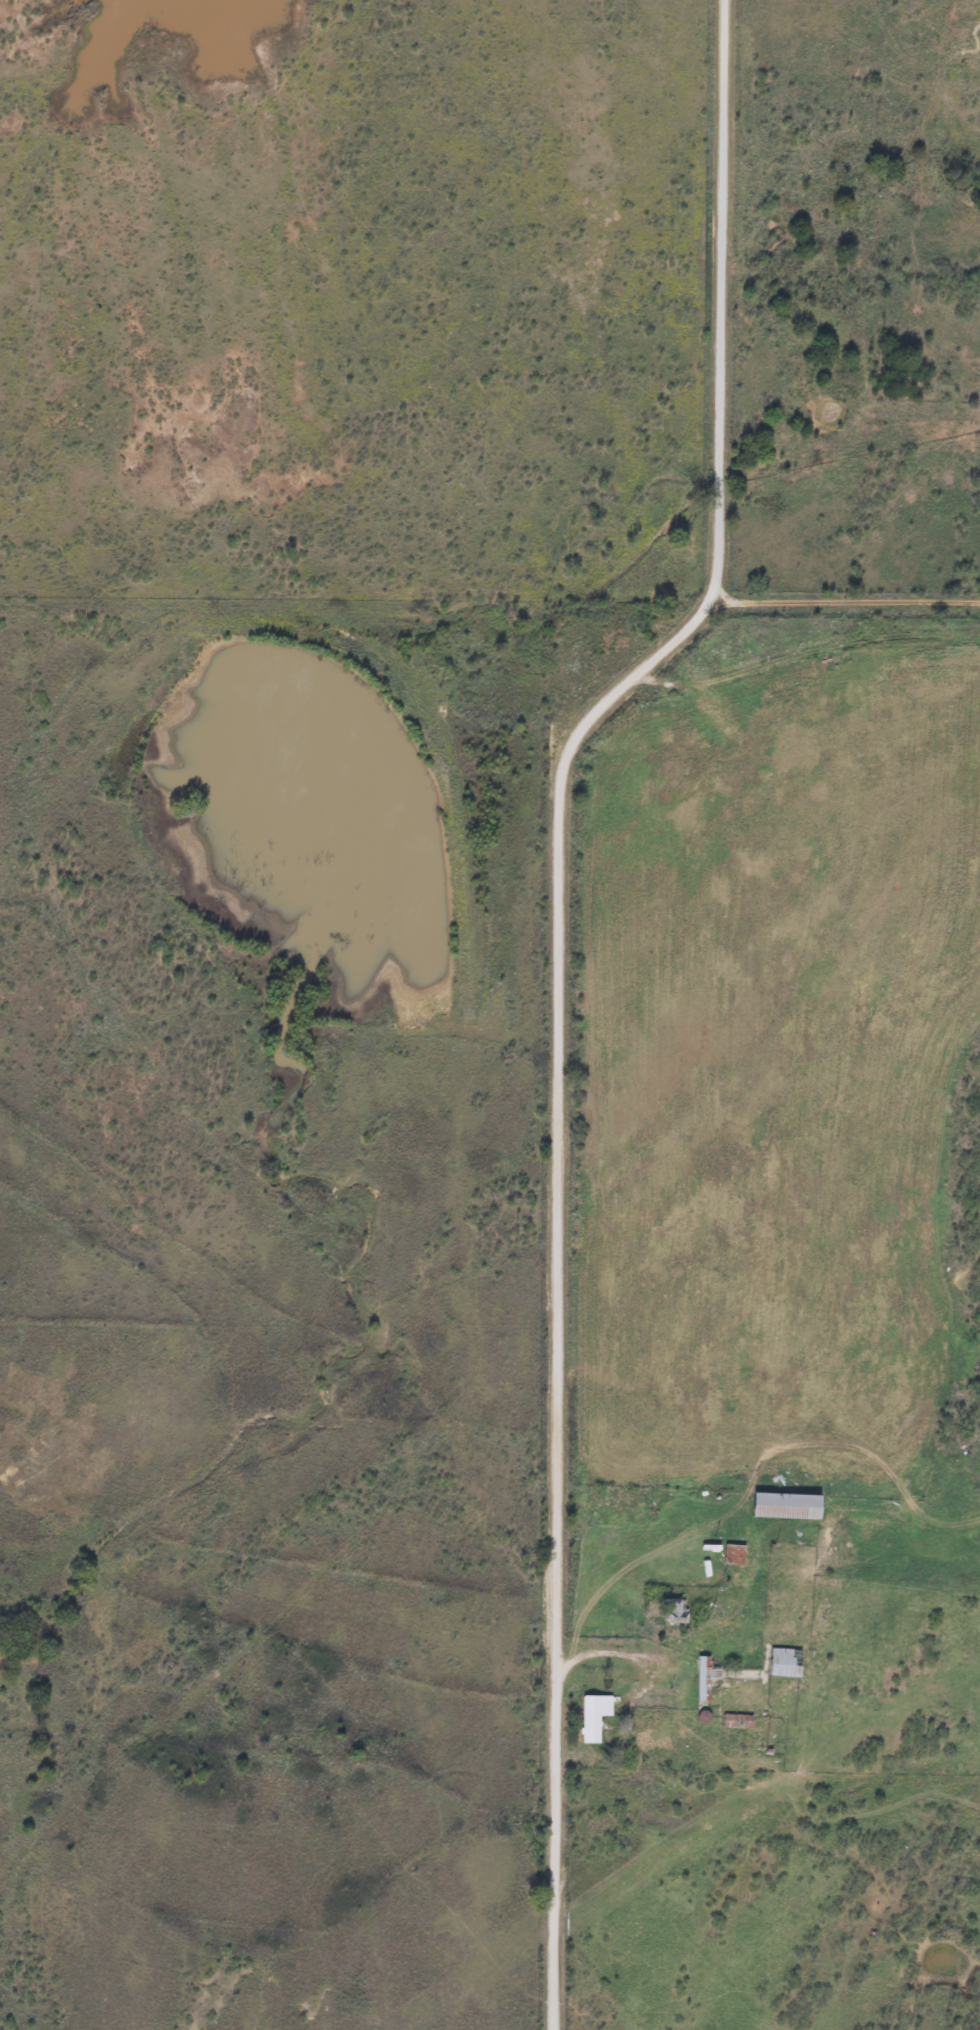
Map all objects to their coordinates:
road: (562, 986)
building: (784, 1505)
building: (732, 1553)
building: (674, 1610)
building: (783, 1661)
road: (683, 1670)
building: (703, 1677)
building: (592, 1716)
building: (736, 1720)

